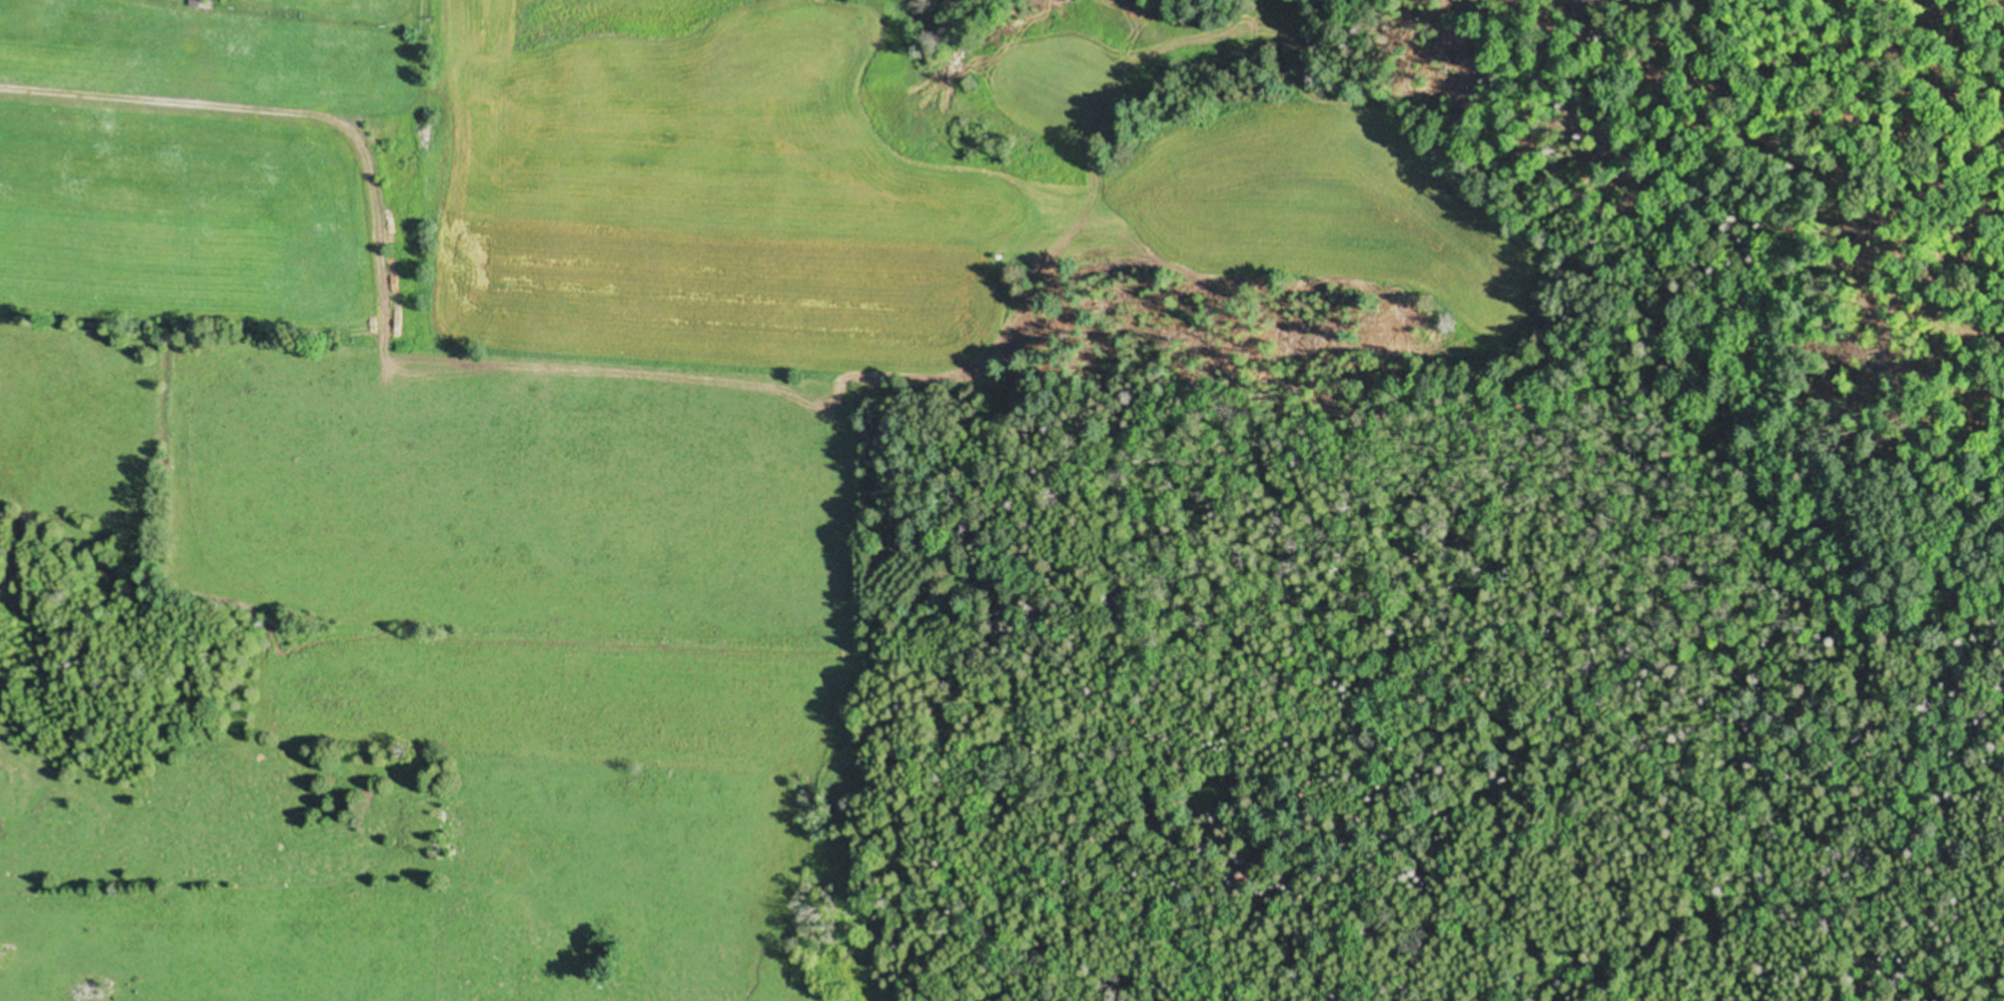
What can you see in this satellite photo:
road: (284, 115)

